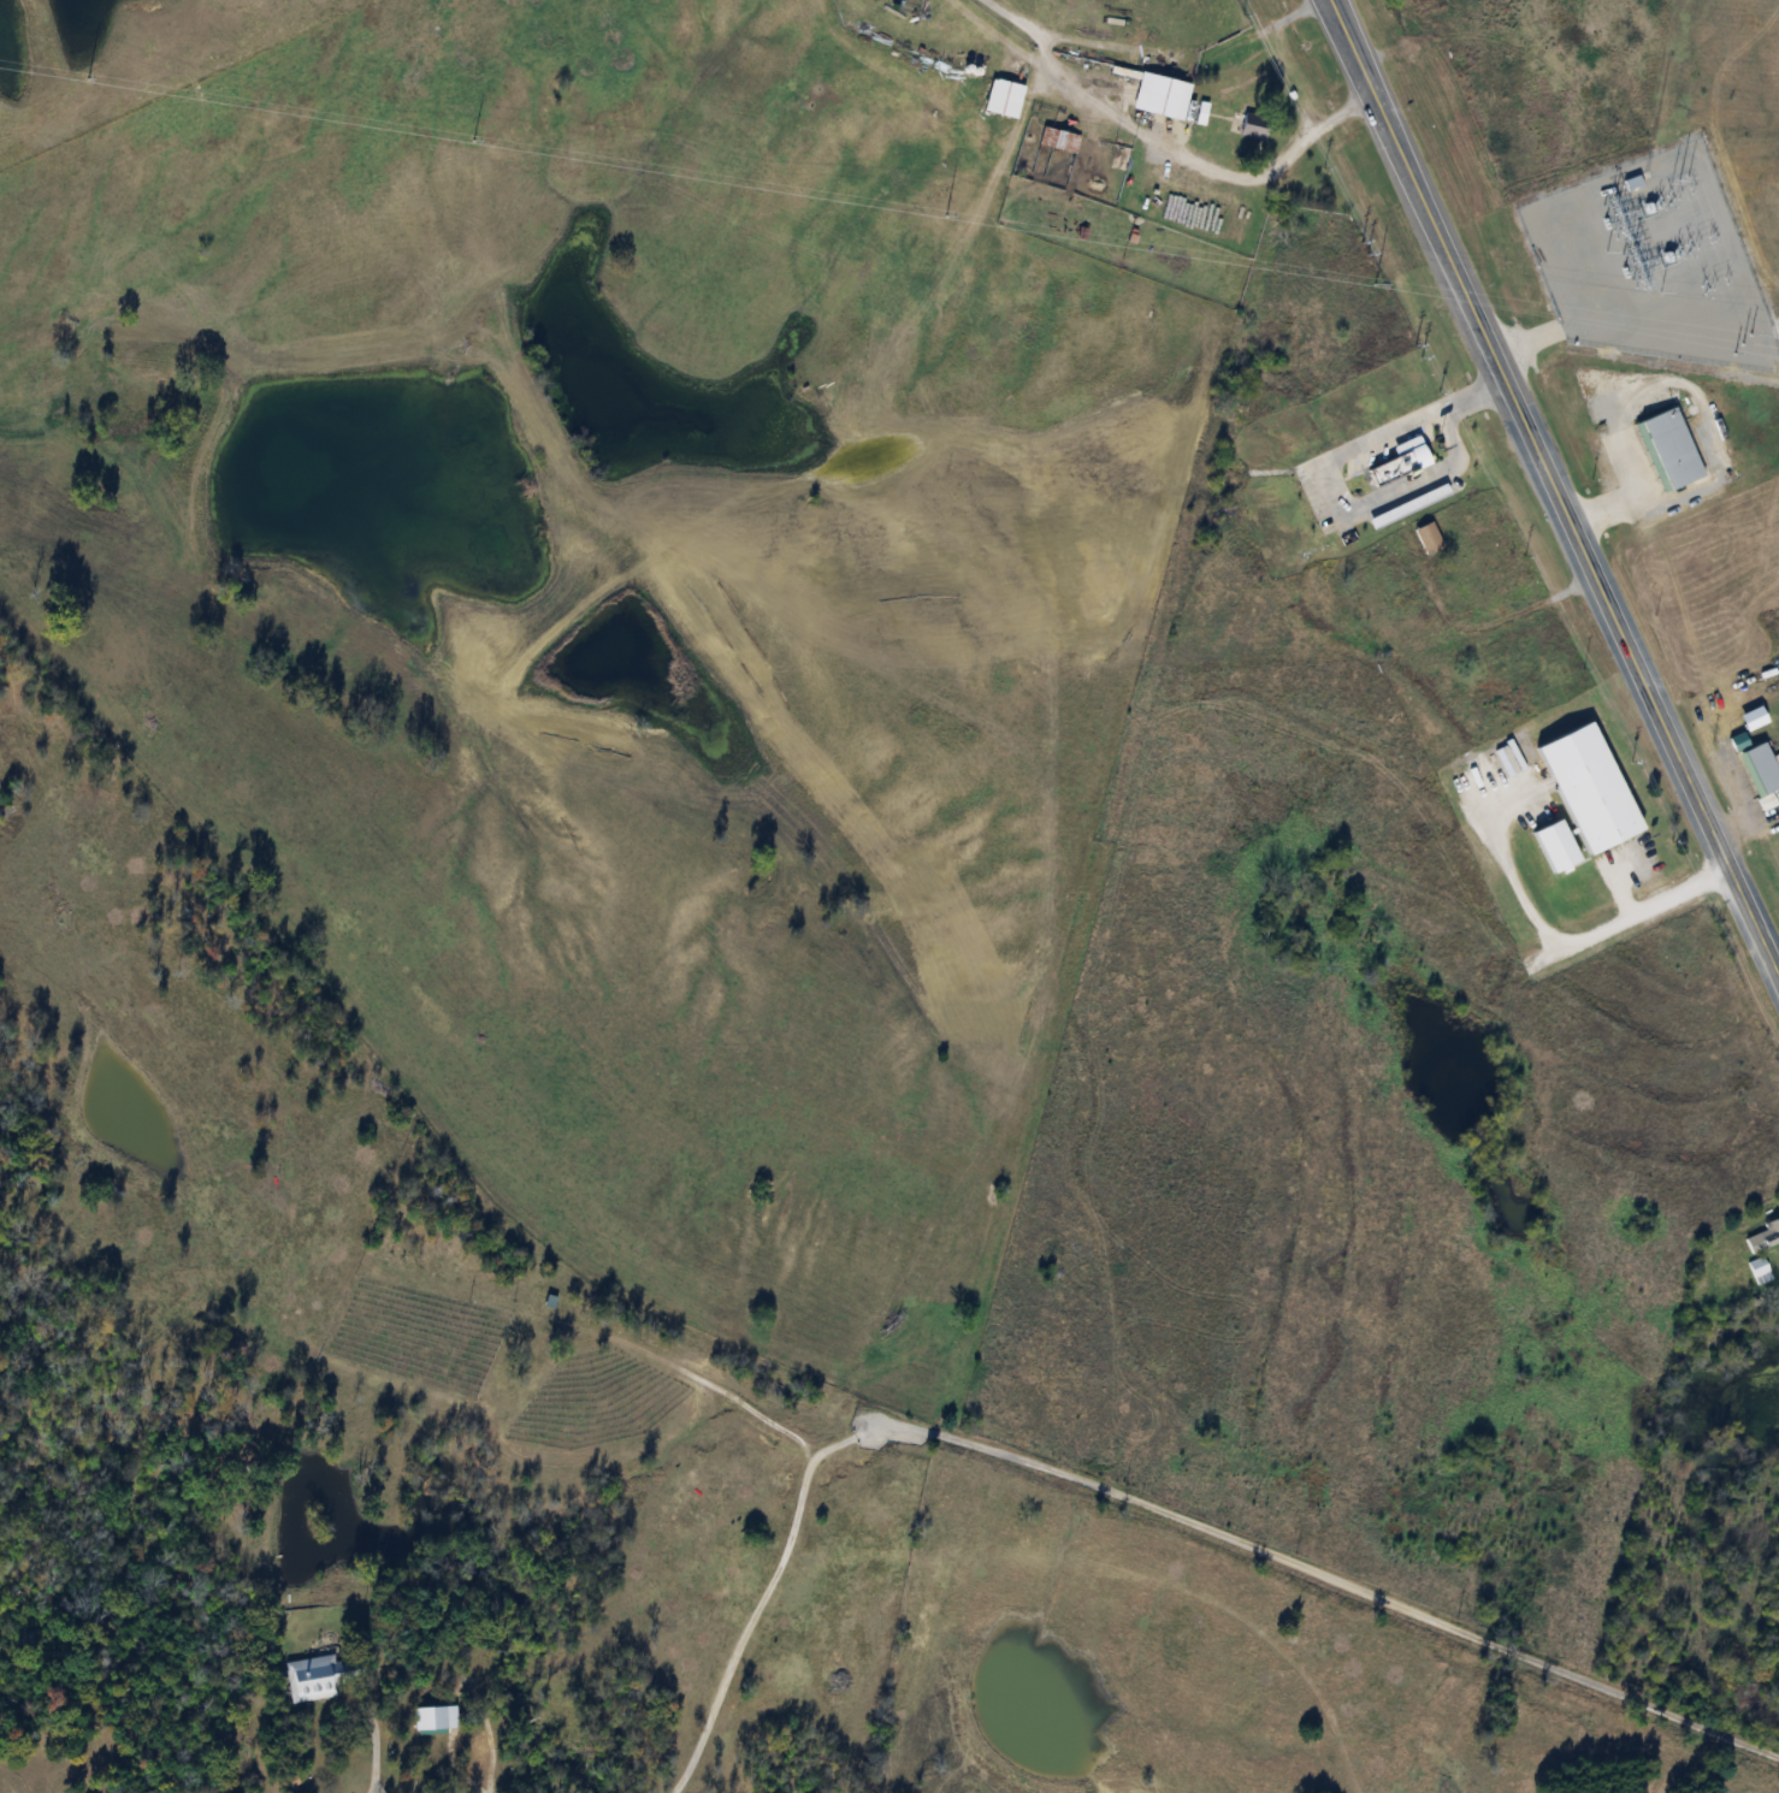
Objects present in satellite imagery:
power tower: (88, 77)
building: (1159, 95)
building: (1001, 96)
building: (1200, 113)
road: (1388, 124)
power tower: (473, 137)
building: (1057, 138)
road: (1210, 165)
power tower: (946, 214)
power substation: (1650, 261)
power tower: (1375, 285)
building: (1671, 446)
building: (1395, 457)
road: (1332, 469)
road: (1630, 496)
building: (1407, 505)
building: (1426, 537)
road: (1613, 609)
building: (1759, 768)
building: (1594, 800)
building: (1554, 845)
road: (1573, 936)
building: (1763, 1236)
building: (1757, 1270)
road: (726, 1386)
road: (1128, 1495)
building: (318, 1676)
building: (469, 1746)
road: (374, 1747)
road: (456, 1765)

